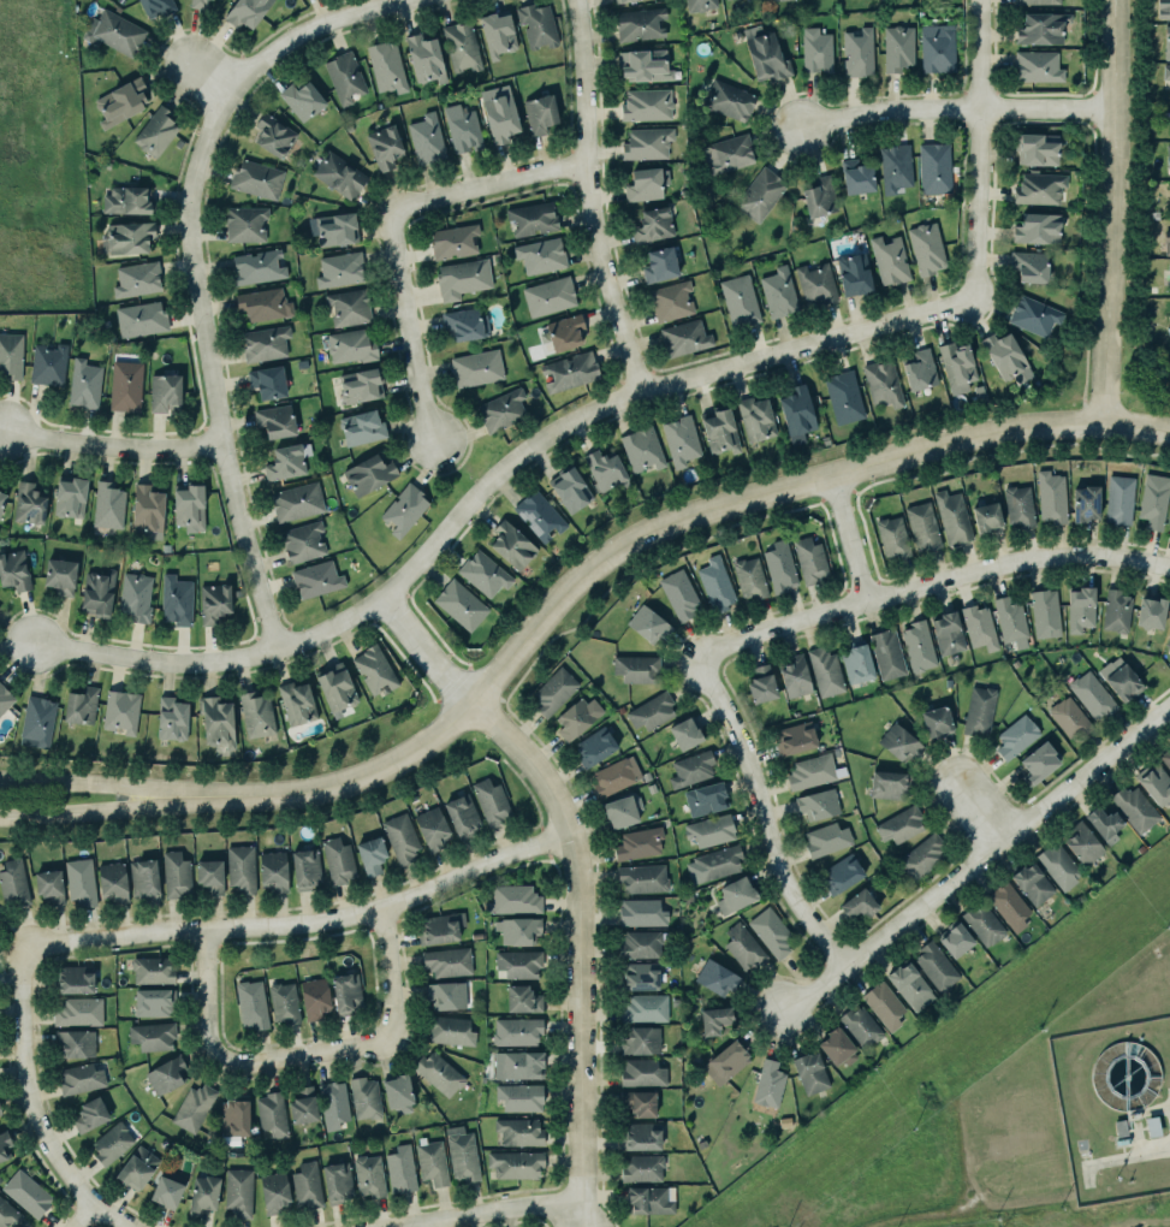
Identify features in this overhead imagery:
building: (771, 0)
building: (620, 1)
building: (1034, 1)
building: (196, 2)
building: (699, 5)
building: (154, 7)
building: (1160, 7)
building: (245, 12)
building: (637, 20)
building: (535, 24)
building: (1041, 28)
building: (112, 31)
building: (497, 34)
building: (1165, 38)
building: (812, 46)
building: (462, 47)
building: (897, 47)
building: (936, 48)
building: (857, 52)
building: (764, 53)
building: (424, 58)
building: (643, 64)
building: (385, 66)
building: (1038, 66)
building: (1164, 71)
building: (344, 77)
building: (727, 99)
building: (302, 100)
building: (121, 102)
building: (645, 103)
road: (957, 106)
building: (499, 113)
building: (539, 113)
building: (1166, 115)
building: (462, 131)
building: (156, 132)
building: (1169, 132)
building: (272, 135)
building: (427, 138)
building: (647, 143)
road: (979, 146)
building: (385, 147)
building: (1038, 149)
building: (1166, 150)
building: (726, 153)
building: (893, 166)
building: (934, 168)
building: (337, 174)
building: (856, 177)
building: (257, 179)
building: (647, 184)
road: (491, 185)
building: (1038, 188)
road: (590, 194)
building: (759, 194)
building: (820, 197)
building: (124, 201)
road: (1110, 211)
building: (531, 218)
building: (245, 224)
building: (653, 225)
building: (1035, 229)
building: (337, 230)
building: (127, 238)
building: (1165, 238)
building: (453, 242)
building: (925, 248)
building: (541, 255)
building: (889, 260)
building: (660, 263)
road: (196, 266)
building: (256, 266)
building: (1031, 266)
building: (340, 269)
building: (1168, 273)
building: (853, 274)
building: (461, 278)
building: (137, 279)
building: (815, 284)
building: (779, 292)
building: (550, 296)
building: (669, 296)
building: (740, 301)
building: (265, 304)
building: (346, 306)
building: (1033, 315)
building: (141, 319)
building: (463, 324)
road: (406, 325)
building: (565, 332)
building: (683, 334)
building: (266, 343)
building: (351, 346)
building: (1003, 355)
building: (11, 356)
building: (47, 363)
building: (955, 363)
building: (475, 367)
building: (920, 369)
building: (570, 372)
building: (266, 383)
building: (84, 384)
building: (883, 384)
building: (361, 385)
building: (125, 386)
building: (165, 393)
building: (844, 397)
building: (501, 410)
building: (797, 414)
building: (756, 419)
building: (275, 421)
building: (360, 426)
building: (720, 432)
building: (679, 440)
road: (112, 447)
building: (641, 449)
road: (1000, 458)
building: (284, 462)
building: (602, 468)
building: (369, 474)
road: (495, 479)
building: (571, 491)
building: (1050, 497)
building: (69, 498)
building: (1, 499)
building: (1118, 499)
building: (1152, 499)
building: (297, 502)
building: (26, 503)
building: (1085, 503)
building: (108, 505)
building: (1018, 506)
building: (190, 508)
building: (145, 509)
building: (403, 509)
building: (538, 516)
building: (951, 516)
building: (987, 517)
building: (921, 526)
building: (1169, 528)
road: (851, 537)
building: (891, 537)
building: (303, 541)
building: (511, 545)
road: (640, 545)
building: (810, 561)
building: (780, 565)
building: (13, 570)
building: (482, 574)
building: (61, 576)
building: (749, 577)
building: (315, 579)
road: (932, 582)
building: (714, 585)
building: (97, 592)
building: (678, 593)
building: (133, 597)
building: (174, 600)
building: (213, 603)
building: (459, 605)
building: (1080, 609)
building: (1116, 611)
building: (1044, 612)
building: (1150, 613)
building: (1010, 621)
building: (647, 623)
building: (978, 627)
building: (948, 633)
building: (1168, 640)
building: (919, 646)
building: (886, 653)
road: (428, 657)
building: (857, 662)
building: (634, 666)
building: (375, 670)
building: (824, 671)
building: (795, 676)
building: (1121, 678)
building: (761, 684)
building: (334, 688)
building: (552, 689)
building: (1091, 694)
building: (5, 699)
building: (296, 703)
building: (82, 706)
building: (978, 710)
building: (121, 711)
building: (652, 711)
building: (256, 715)
building: (574, 717)
building: (1069, 718)
building: (36, 719)
building: (170, 719)
building: (216, 722)
building: (934, 722)
building: (682, 731)
building: (1014, 736)
building: (795, 737)
building: (899, 743)
building: (595, 746)
building: (1166, 757)
building: (1038, 764)
building: (693, 769)
building: (808, 770)
building: (613, 775)
building: (886, 783)
building: (1156, 784)
road: (90, 787)
building: (702, 796)
building: (488, 800)
building: (819, 804)
road: (982, 806)
building: (1133, 807)
road: (90, 810)
building: (619, 810)
road: (765, 813)
building: (459, 814)
building: (1101, 823)
building: (897, 824)
building: (429, 826)
building: (708, 829)
building: (400, 837)
building: (827, 838)
building: (639, 843)
building: (1083, 844)
building: (368, 853)
building: (923, 856)
road: (974, 856)
building: (335, 859)
building: (714, 864)
building: (1059, 865)
building: (239, 867)
building: (307, 869)
building: (273, 871)
building: (173, 873)
building: (208, 873)
building: (842, 875)
building: (640, 877)
building: (144, 879)
building: (12, 881)
building: (111, 881)
building: (81, 882)
building: (47, 884)
building: (1033, 884)
building: (732, 893)
building: (513, 900)
building: (1006, 903)
building: (859, 905)
building: (642, 912)
building: (0, 913)
road: (310, 924)
building: (984, 924)
building: (436, 926)
building: (517, 929)
building: (767, 930)
building: (952, 937)
building: (639, 943)
building: (741, 946)
road: (586, 947)
building: (447, 961)
building: (518, 964)
building: (933, 965)
building: (150, 968)
building: (636, 976)
building: (714, 976)
building: (73, 979)
building: (910, 986)
building: (344, 991)
building: (446, 995)
building: (313, 996)
building: (519, 997)
building: (249, 1001)
building: (281, 1001)
building: (153, 1002)
building: (884, 1004)
building: (641, 1007)
building: (78, 1012)
building: (712, 1018)
building: (861, 1026)
building: (447, 1030)
building: (513, 1030)
building: (150, 1035)
building: (641, 1041)
building: (72, 1042)
building: (838, 1048)
road: (309, 1054)
building: (724, 1060)
building: (516, 1062)
building: (436, 1072)
building: (642, 1072)
building: (807, 1072)
building: (164, 1073)
building: (78, 1077)
building: (770, 1084)
building: (396, 1091)
building: (362, 1096)
building: (521, 1097)
building: (636, 1101)
building: (303, 1104)
building: (334, 1104)
road: (40, 1107)
building: (191, 1107)
road: (1156, 1110)
building: (0, 1112)
building: (271, 1114)
building: (90, 1115)
building: (232, 1118)
building: (519, 1132)
building: (637, 1136)
building: (4, 1143)
building: (112, 1143)
building: (458, 1152)
road: (1116, 1158)
building: (428, 1162)
building: (516, 1164)
building: (135, 1166)
building: (640, 1167)
building: (398, 1168)
building: (369, 1175)
building: (334, 1180)
building: (307, 1185)
building: (164, 1190)
building: (272, 1190)
building: (202, 1191)
building: (26, 1192)
building: (239, 1192)
building: (648, 1197)
building: (7, 1214)
road: (495, 1214)
road: (87, 1217)

